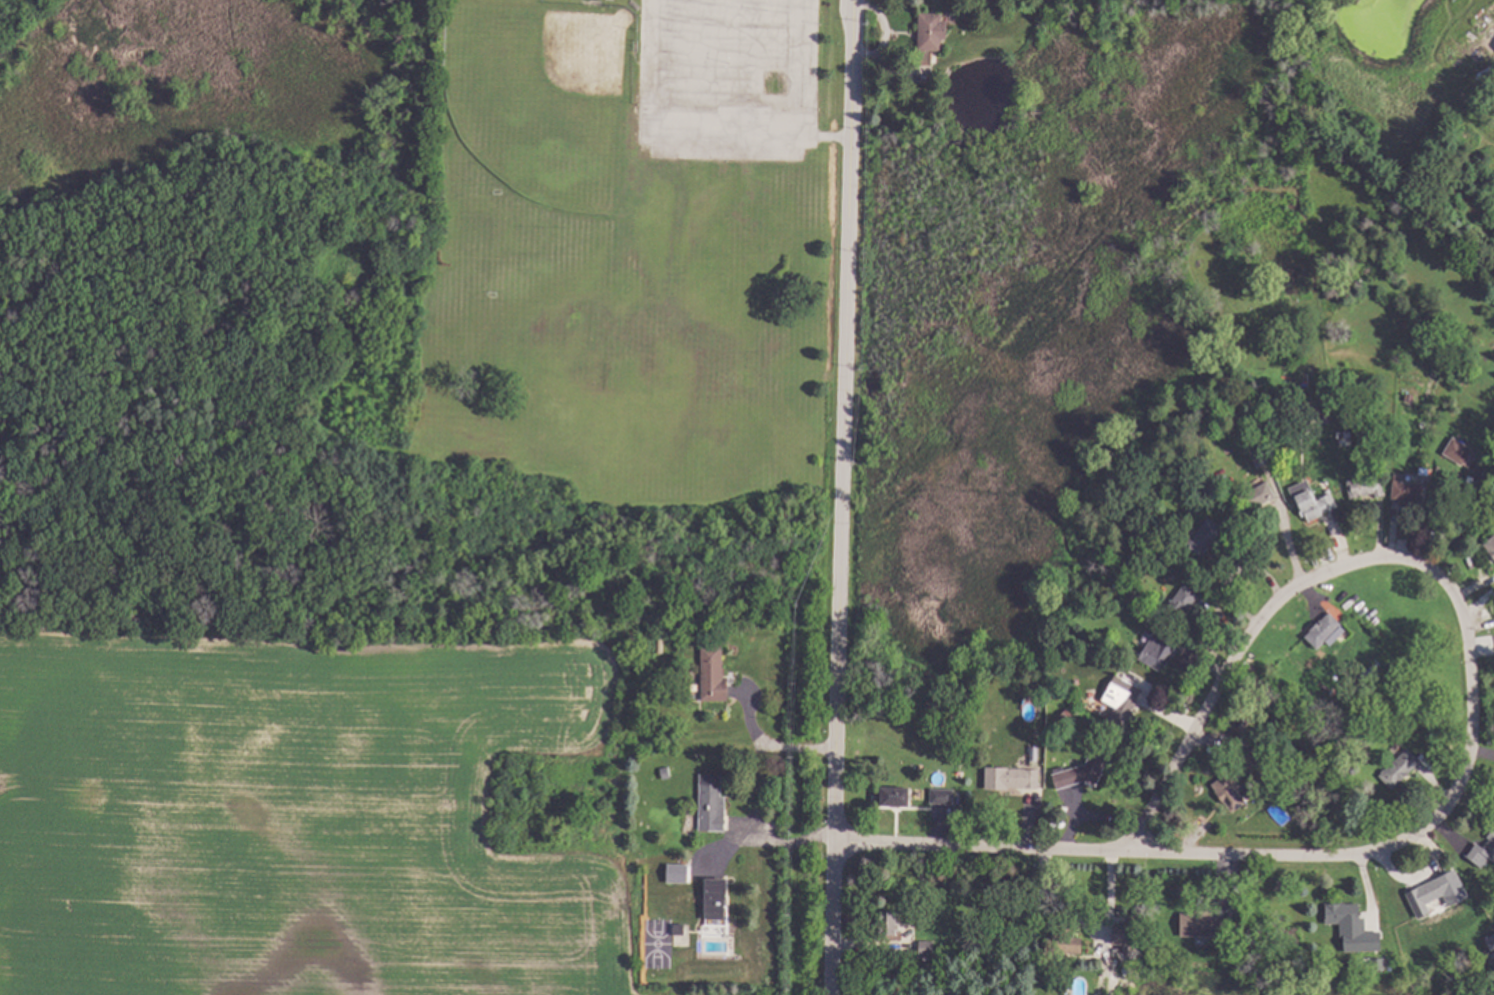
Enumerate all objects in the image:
building: (993, 8)
building: (930, 36)
road: (698, 65)
road: (750, 66)
road: (795, 67)
park: (546, 97)
road: (687, 129)
park: (491, 245)
building: (1410, 398)
building: (1302, 401)
building: (1208, 405)
building: (1344, 439)
building: (1460, 453)
building: (1260, 457)
building: (1225, 484)
building: (1364, 486)
building: (1407, 491)
road: (840, 497)
building: (1256, 498)
building: (1313, 505)
building: (1202, 537)
building: (1490, 547)
building: (1156, 557)
building: (1183, 602)
building: (1324, 631)
building: (661, 645)
building: (1159, 650)
road: (1239, 651)
building: (713, 674)
building: (1365, 677)
building: (988, 681)
building: (1122, 699)
building: (947, 732)
building: (1321, 742)
road: (767, 747)
building: (1253, 758)
building: (1400, 768)
building: (1355, 771)
building: (665, 773)
building: (1082, 773)
building: (1012, 779)
building: (1232, 790)
building: (942, 796)
building: (896, 798)
building: (712, 804)
crop: (302, 814)
road: (767, 841)
road: (976, 841)
building: (1487, 853)
building: (1434, 890)
building: (715, 898)
building: (1349, 920)
building: (888, 922)
building: (1206, 924)
road: (1085, 928)
building: (679, 929)
building: (1126, 938)
building: (1066, 941)
building: (1491, 942)
building: (1017, 946)
building: (927, 947)
building: (1234, 957)
building: (1261, 959)
building: (1445, 959)
building: (1031, 987)

